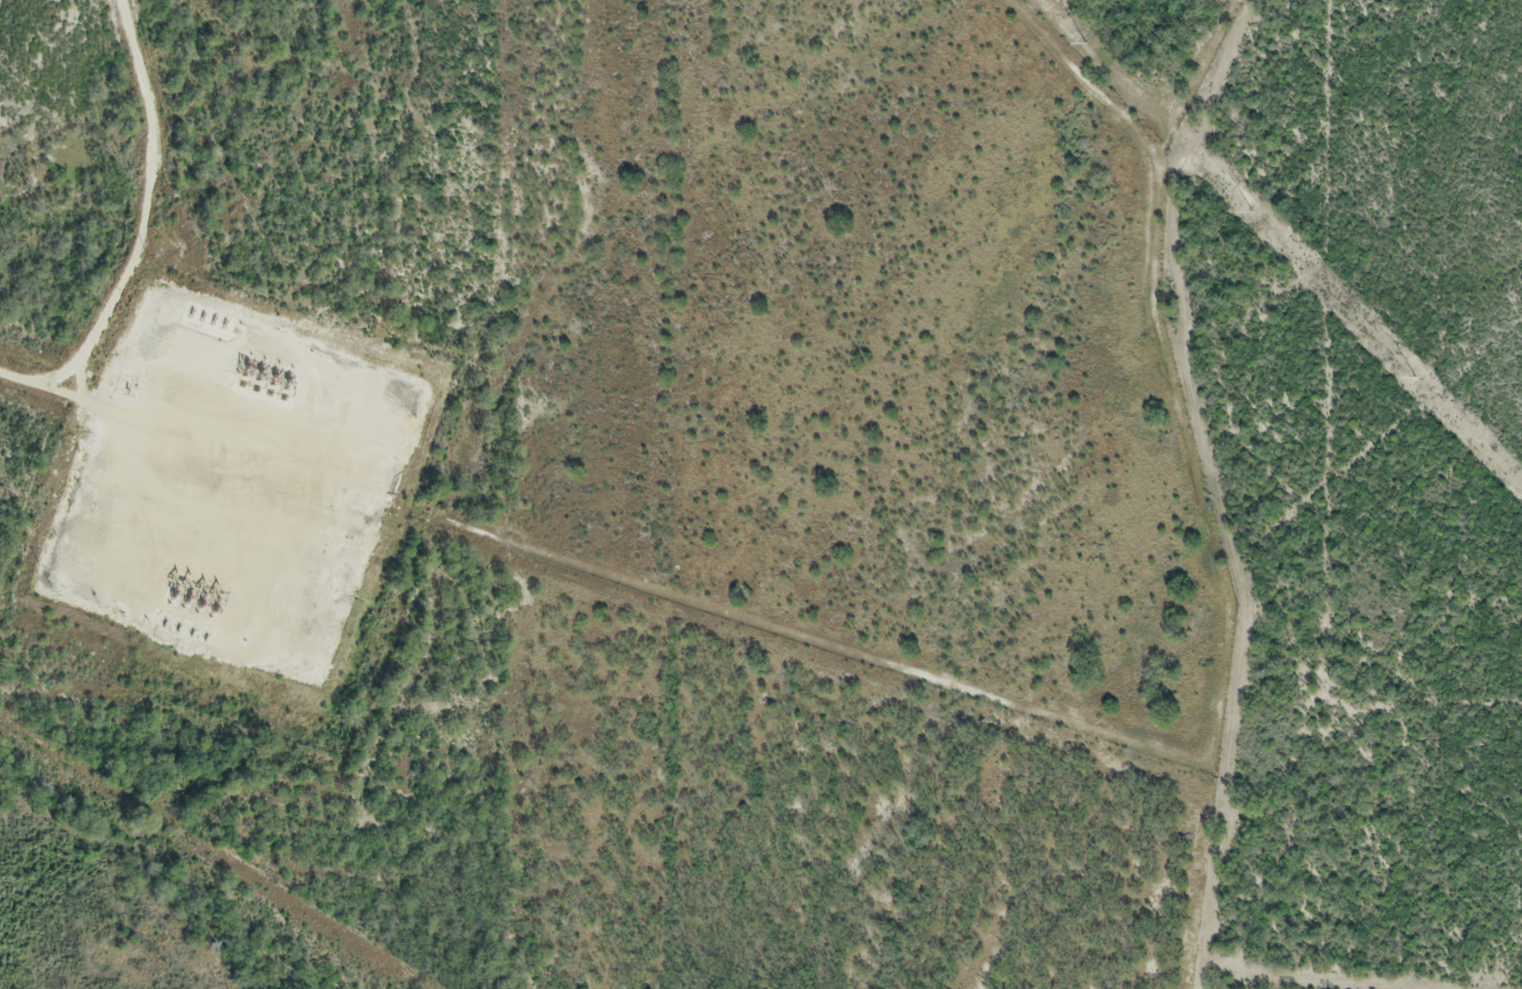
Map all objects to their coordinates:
power tower: (1086, 43)
power tower: (1250, 213)
power tower: (1415, 377)

